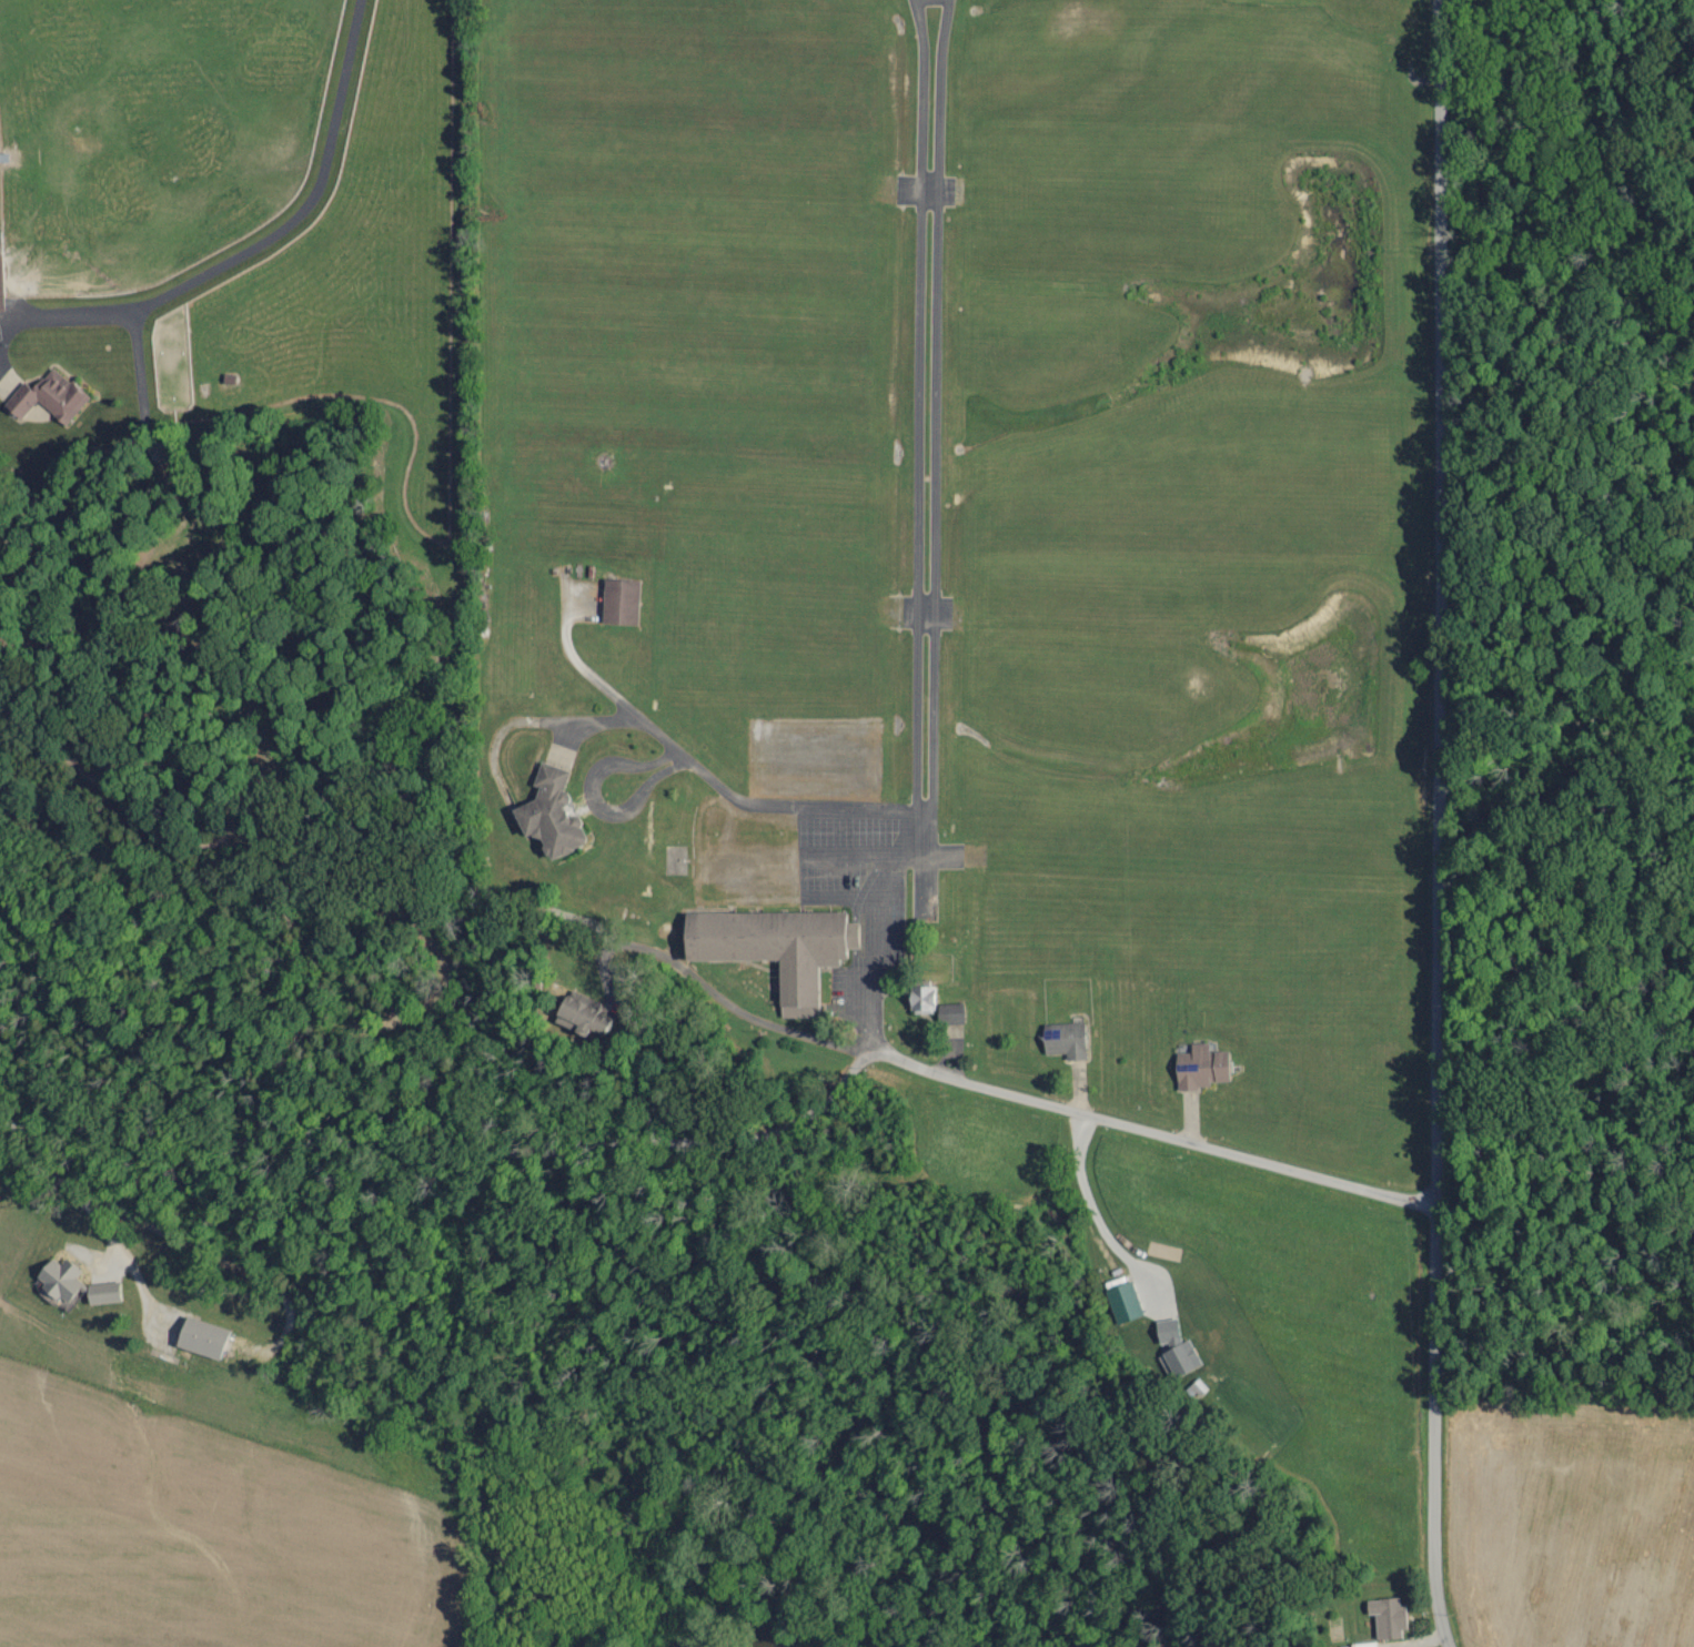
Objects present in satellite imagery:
road: (255, 242)
building: (51, 397)
road: (924, 534)
building: (622, 603)
road: (714, 786)
building: (552, 815)
road: (1435, 825)
building: (777, 949)
building: (925, 1001)
road: (728, 1009)
building: (952, 1014)
building: (585, 1019)
building: (1067, 1041)
building: (1203, 1069)
road: (738, 1141)
building: (75, 1285)
building: (1126, 1304)
building: (203, 1338)
building: (1178, 1350)
building: (1390, 1617)
building: (1367, 1645)

